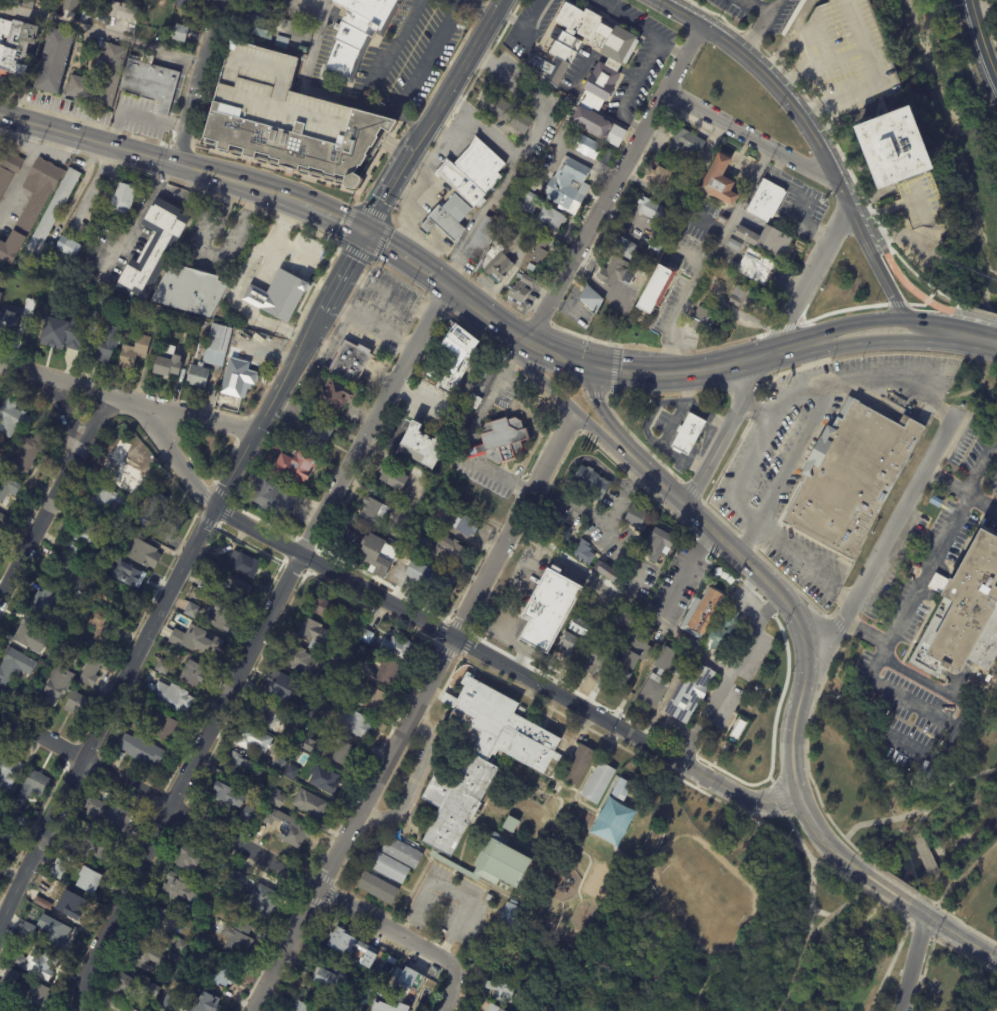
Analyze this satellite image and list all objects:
building: (14, 1)
building: (106, 1)
building: (28, 3)
road: (605, 4)
building: (70, 5)
building: (185, 5)
road: (480, 6)
road: (982, 7)
road: (752, 8)
building: (125, 12)
building: (87, 14)
building: (260, 27)
road: (523, 27)
road: (638, 28)
road: (760, 29)
building: (181, 32)
road: (101, 33)
building: (358, 35)
road: (789, 39)
road: (979, 41)
building: (282, 42)
building: (16, 48)
building: (303, 49)
road: (391, 52)
road: (427, 57)
building: (54, 61)
road: (586, 63)
road: (612, 63)
road: (628, 72)
building: (604, 74)
building: (110, 77)
road: (875, 81)
building: (150, 82)
road: (197, 82)
road: (771, 83)
road: (631, 90)
road: (320, 93)
building: (570, 99)
building: (506, 113)
road: (431, 115)
road: (154, 116)
building: (290, 120)
building: (564, 128)
road: (534, 134)
road: (754, 139)
building: (686, 143)
building: (587, 146)
building: (898, 148)
building: (0, 149)
building: (0, 152)
road: (573, 153)
road: (146, 156)
road: (21, 167)
building: (8, 169)
building: (472, 173)
building: (663, 179)
building: (721, 183)
road: (614, 184)
road: (95, 186)
building: (568, 186)
road: (79, 189)
building: (122, 197)
road: (801, 200)
building: (768, 201)
building: (32, 205)
building: (87, 206)
road: (736, 208)
building: (652, 210)
building: (542, 212)
road: (328, 214)
building: (50, 218)
road: (139, 218)
building: (448, 218)
building: (723, 221)
building: (671, 226)
traffic signals: (364, 231)
building: (664, 237)
road: (466, 238)
building: (767, 241)
building: (735, 246)
building: (67, 248)
building: (654, 249)
building: (628, 250)
building: (490, 251)
building: (155, 252)
building: (541, 252)
road: (209, 255)
road: (401, 257)
road: (873, 263)
building: (735, 266)
building: (531, 268)
building: (758, 268)
road: (815, 268)
building: (614, 272)
building: (31, 277)
building: (18, 285)
building: (27, 288)
building: (190, 289)
building: (521, 289)
building: (659, 291)
building: (278, 294)
building: (88, 297)
road: (402, 298)
building: (741, 298)
building: (105, 300)
road: (719, 300)
building: (591, 301)
building: (6, 312)
road: (482, 314)
building: (699, 321)
road: (947, 321)
road: (852, 322)
building: (190, 323)
road: (672, 330)
road: (918, 331)
building: (65, 333)
road: (991, 334)
road: (900, 342)
building: (106, 344)
building: (217, 344)
road: (778, 345)
road: (788, 351)
building: (134, 352)
building: (457, 355)
road: (555, 355)
building: (351, 360)
building: (169, 361)
traffic signals: (585, 367)
road: (597, 369)
road: (692, 372)
building: (198, 375)
road: (891, 377)
building: (239, 378)
road: (758, 382)
park: (979, 393)
road: (991, 393)
building: (337, 394)
road: (789, 395)
road: (126, 399)
building: (474, 401)
road: (565, 404)
road: (63, 408)
road: (602, 413)
road: (760, 413)
building: (12, 418)
building: (713, 428)
building: (320, 432)
building: (688, 434)
building: (502, 441)
building: (422, 444)
road: (174, 453)
building: (26, 454)
road: (794, 455)
road: (716, 460)
building: (124, 463)
building: (296, 466)
road: (975, 470)
road: (746, 472)
building: (419, 473)
building: (394, 477)
building: (849, 477)
building: (591, 481)
road: (946, 485)
building: (8, 489)
building: (275, 495)
road: (54, 496)
road: (622, 497)
building: (107, 501)
building: (937, 501)
building: (433, 502)
road: (682, 503)
building: (154, 507)
road: (982, 507)
building: (374, 511)
building: (637, 517)
building: (4, 520)
building: (171, 525)
building: (466, 526)
building: (123, 527)
building: (562, 531)
road: (747, 537)
building: (84, 539)
road: (614, 539)
building: (419, 543)
building: (659, 545)
building: (451, 549)
road: (882, 551)
building: (143, 552)
building: (584, 552)
building: (378, 555)
building: (98, 559)
building: (401, 559)
road: (807, 563)
building: (244, 564)
road: (685, 568)
building: (607, 571)
building: (70, 577)
road: (174, 577)
building: (429, 577)
building: (133, 578)
building: (206, 584)
building: (233, 589)
road: (622, 600)
building: (712, 601)
building: (73, 604)
building: (46, 605)
building: (323, 606)
building: (547, 608)
building: (192, 610)
building: (85, 611)
building: (963, 613)
building: (221, 617)
building: (626, 620)
road: (902, 624)
building: (353, 627)
building: (101, 630)
building: (724, 633)
building: (313, 634)
building: (31, 636)
building: (366, 636)
building: (194, 637)
road: (865, 638)
building: (571, 645)
road: (252, 646)
building: (70, 647)
building: (398, 648)
building: (338, 656)
building: (596, 658)
building: (632, 658)
building: (299, 659)
road: (805, 662)
building: (352, 663)
road: (504, 665)
building: (163, 666)
building: (681, 666)
building: (90, 667)
building: (10, 668)
building: (193, 673)
building: (388, 673)
road: (728, 677)
building: (659, 679)
building: (323, 682)
building: (56, 685)
building: (281, 685)
building: (255, 687)
building: (336, 690)
building: (691, 692)
building: (170, 696)
building: (369, 696)
building: (77, 704)
building: (307, 710)
road: (411, 711)
building: (271, 713)
building: (353, 722)
building: (134, 723)
building: (163, 724)
road: (579, 730)
building: (257, 740)
building: (313, 747)
building: (141, 750)
building: (342, 753)
building: (482, 761)
building: (279, 764)
building: (579, 765)
building: (242, 768)
building: (935, 771)
building: (9, 772)
building: (291, 772)
road: (971, 777)
building: (327, 781)
road: (414, 782)
building: (599, 784)
building: (33, 785)
building: (622, 790)
building: (229, 796)
building: (277, 799)
building: (310, 804)
building: (3, 806)
building: (109, 814)
building: (250, 815)
building: (16, 819)
building: (512, 824)
building: (288, 828)
building: (7, 834)
road: (229, 838)
park: (945, 838)
road: (825, 843)
building: (97, 846)
road: (831, 850)
road: (925, 852)
building: (402, 853)
building: (68, 858)
building: (191, 858)
building: (499, 861)
road: (885, 865)
building: (389, 868)
building: (59, 869)
building: (90, 881)
building: (216, 884)
building: (181, 887)
building: (378, 888)
road: (450, 892)
road: (889, 892)
building: (256, 894)
road: (943, 895)
building: (489, 898)
building: (44, 904)
building: (72, 905)
parking lot: (449, 908)
building: (512, 913)
building: (199, 914)
building: (165, 920)
building: (29, 932)
road: (955, 933)
building: (59, 936)
building: (237, 939)
building: (21, 943)
building: (181, 946)
building: (352, 946)
park: (834, 948)
building: (146, 957)
road: (895, 959)
building: (175, 960)
building: (17, 961)
road: (914, 964)
building: (41, 965)
building: (186, 969)
building: (221, 974)
building: (9, 976)
building: (329, 980)
building: (407, 983)
building: (125, 986)
road: (450, 989)
building: (152, 990)
building: (501, 992)
building: (37, 996)
building: (169, 1002)
building: (204, 1002)
building: (300, 1007)
building: (345, 1008)
building: (390, 1008)
building: (494, 1008)
building: (161, 1009)
building: (991, 1009)
building: (553, 1010)

